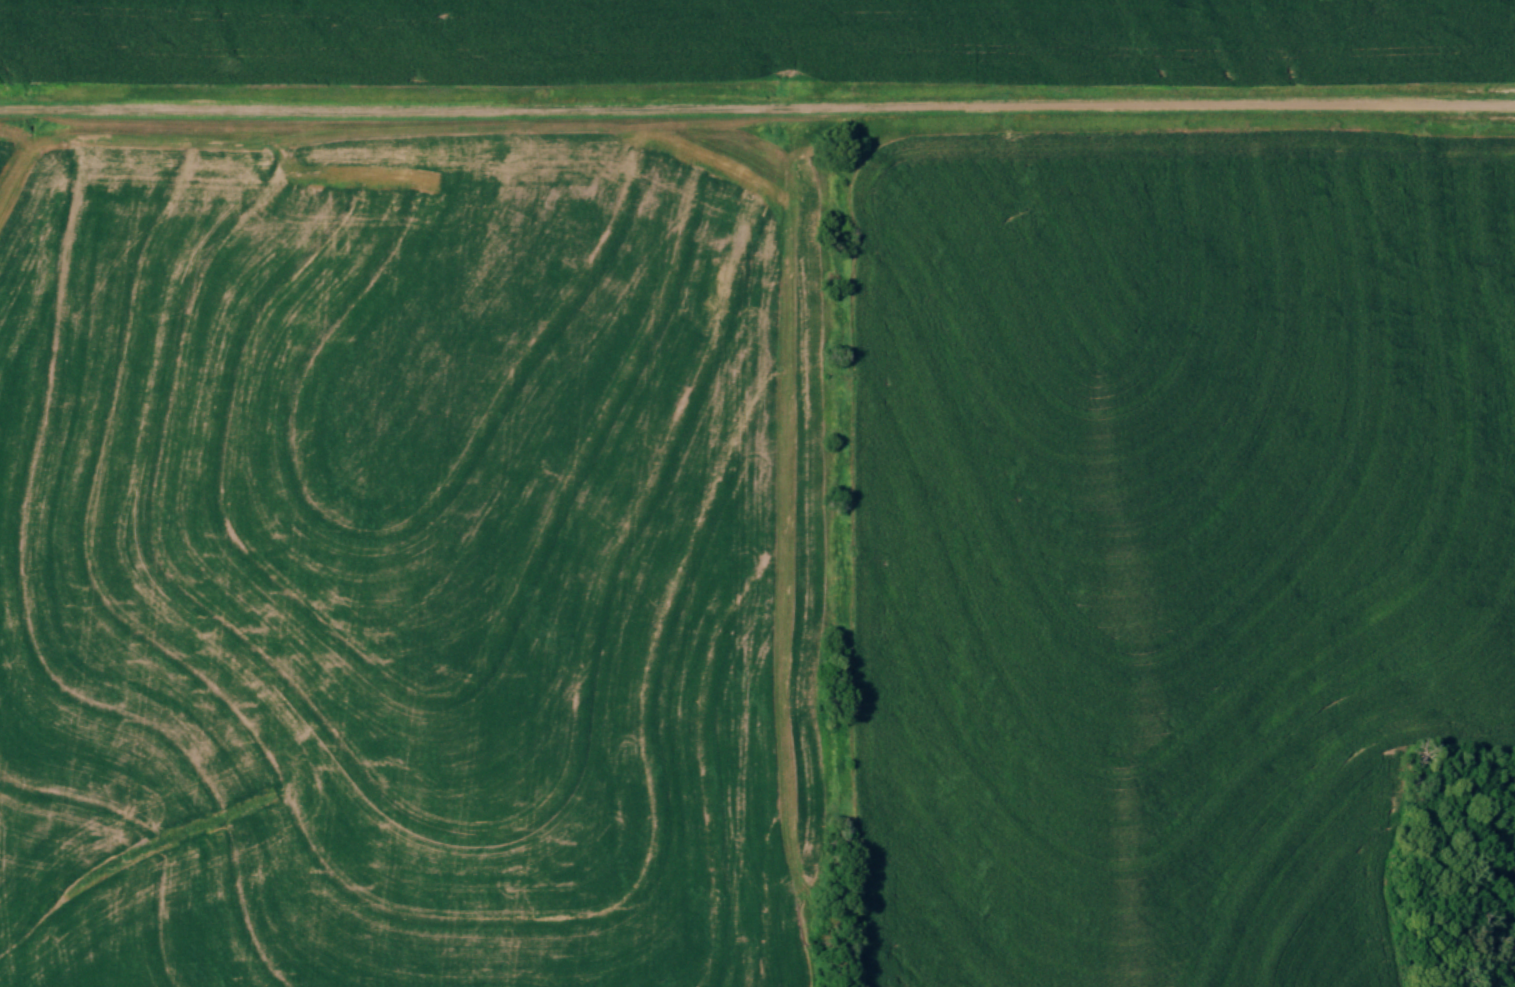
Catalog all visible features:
road: (757, 111)

